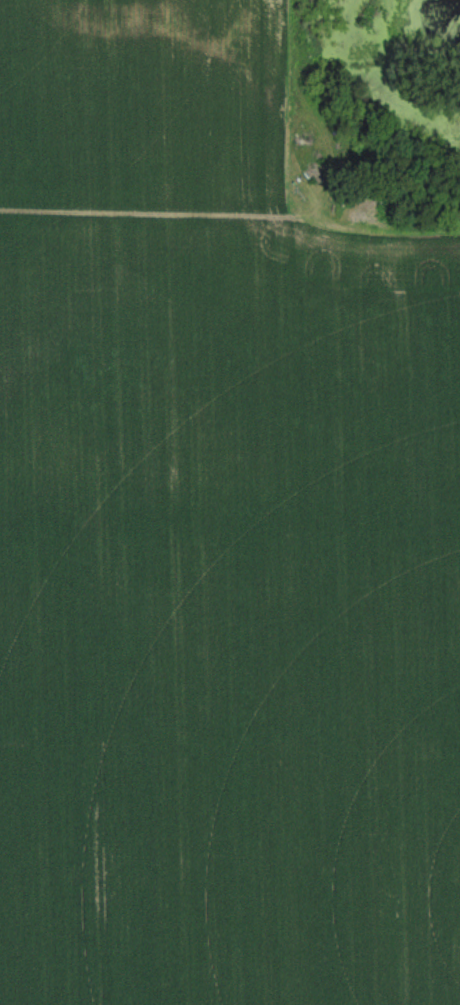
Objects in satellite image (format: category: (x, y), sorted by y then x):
crop: (217, 536)

